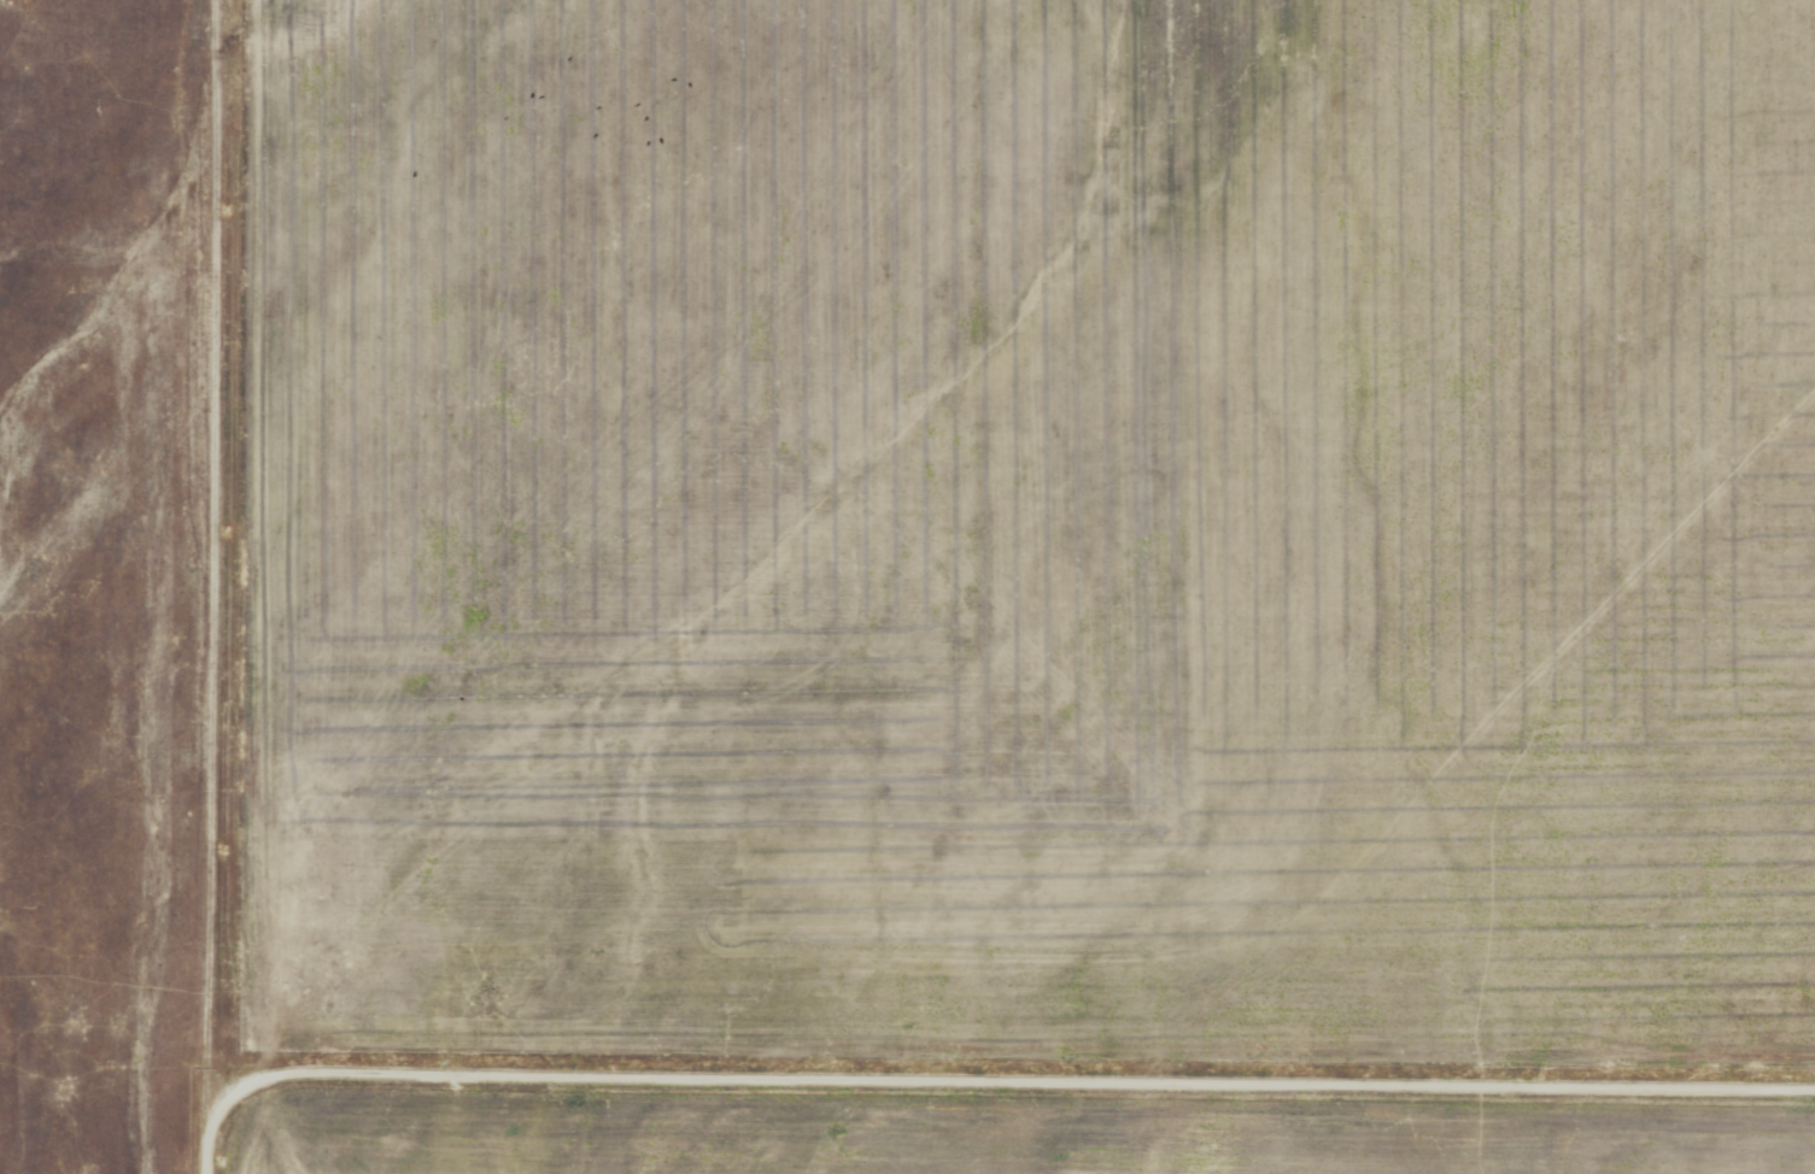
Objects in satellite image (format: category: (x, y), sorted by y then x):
road: (216, 34)
road: (213, 614)
road: (979, 1082)

